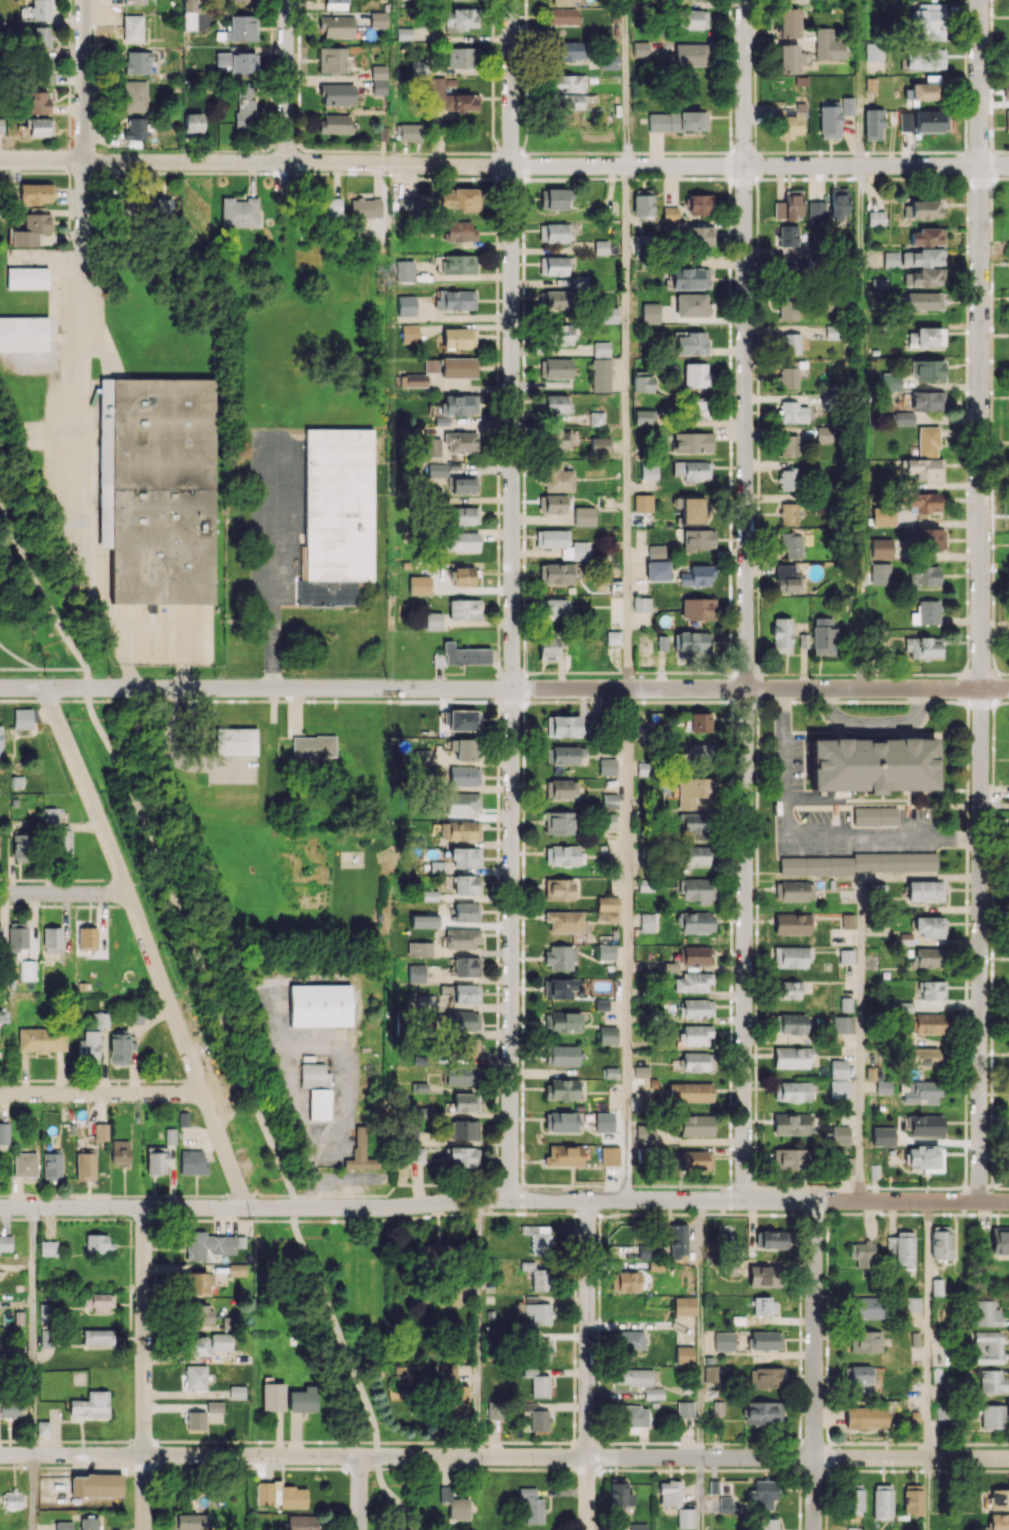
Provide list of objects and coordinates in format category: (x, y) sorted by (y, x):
building: (249, 0)
building: (135, 2)
building: (564, 2)
building: (336, 4)
building: (36, 10)
building: (190, 15)
building: (563, 16)
building: (377, 19)
building: (460, 19)
building: (691, 19)
building: (929, 20)
building: (790, 21)
building: (242, 27)
building: (336, 27)
building: (132, 28)
building: (404, 33)
building: (40, 36)
building: (830, 45)
building: (640, 48)
building: (567, 51)
building: (873, 51)
building: (1008, 53)
building: (690, 54)
building: (463, 57)
building: (789, 58)
building: (332, 59)
building: (927, 59)
building: (236, 61)
building: (608, 61)
building: (138, 62)
building: (418, 68)
building: (42, 72)
building: (378, 79)
road: (627, 82)
building: (567, 83)
building: (1006, 88)
building: (926, 89)
building: (336, 94)
road: (286, 95)
building: (134, 96)
building: (450, 97)
building: (569, 101)
building: (37, 102)
building: (847, 105)
building: (245, 106)
building: (903, 115)
building: (1007, 119)
building: (676, 121)
building: (930, 121)
building: (192, 122)
building: (829, 122)
building: (873, 122)
building: (334, 123)
road: (83, 124)
building: (791, 124)
building: (39, 126)
building: (136, 128)
building: (409, 131)
road: (504, 165)
building: (35, 194)
building: (459, 198)
building: (554, 198)
building: (838, 203)
building: (642, 204)
building: (701, 204)
building: (789, 205)
building: (124, 206)
building: (160, 206)
building: (365, 207)
building: (330, 208)
building: (924, 209)
building: (816, 211)
building: (238, 212)
building: (670, 213)
building: (875, 218)
building: (30, 229)
building: (459, 230)
building: (553, 232)
building: (699, 235)
building: (788, 235)
building: (927, 236)
road: (858, 238)
building: (600, 247)
building: (915, 258)
building: (458, 264)
building: (554, 265)
building: (787, 268)
building: (405, 270)
building: (924, 277)
building: (26, 278)
building: (690, 278)
building: (454, 299)
building: (553, 299)
building: (924, 300)
building: (406, 305)
building: (691, 305)
building: (787, 309)
building: (650, 312)
building: (609, 315)
building: (833, 332)
building: (409, 333)
building: (23, 334)
building: (560, 334)
building: (458, 337)
building: (924, 337)
building: (690, 342)
building: (791, 343)
building: (601, 348)
building: (431, 365)
building: (458, 367)
building: (555, 368)
building: (927, 370)
building: (789, 373)
building: (600, 375)
building: (696, 375)
building: (412, 380)
building: (889, 381)
building: (642, 383)
building: (927, 400)
building: (556, 403)
building: (458, 404)
building: (697, 409)
building: (793, 412)
building: (643, 417)
building: (596, 418)
building: (901, 418)
road: (627, 426)
building: (824, 434)
building: (557, 439)
building: (927, 441)
building: (460, 442)
building: (692, 442)
building: (599, 445)
building: (788, 445)
building: (431, 447)
building: (923, 468)
building: (437, 470)
building: (648, 470)
building: (693, 470)
road: (84, 474)
building: (556, 477)
building: (787, 480)
building: (464, 485)
building: (157, 488)
building: (923, 502)
building: (551, 503)
building: (643, 503)
building: (693, 510)
building: (789, 513)
building: (465, 515)
building: (336, 516)
building: (584, 516)
building: (882, 516)
building: (929, 538)
building: (698, 539)
building: (460, 541)
building: (562, 544)
building: (791, 544)
building: (880, 548)
building: (656, 550)
road: (272, 564)
building: (657, 570)
building: (556, 573)
building: (880, 573)
building: (696, 575)
building: (923, 575)
building: (461, 576)
building: (787, 579)
building: (419, 585)
road: (42, 591)
park: (39, 594)
road: (511, 598)
road: (745, 599)
road: (980, 601)
building: (641, 604)
building: (554, 608)
building: (698, 608)
building: (464, 609)
building: (925, 612)
building: (433, 621)
road: (176, 623)
building: (781, 635)
building: (823, 635)
building: (613, 637)
building: (803, 640)
building: (660, 643)
building: (691, 643)
building: (547, 647)
building: (923, 647)
building: (460, 655)
road: (18, 669)
road: (38, 670)
road: (86, 688)
road: (504, 688)
road: (53, 700)
road: (85, 700)
building: (22, 718)
building: (461, 720)
road: (873, 721)
building: (699, 722)
building: (562, 726)
building: (235, 741)
building: (311, 749)
building: (463, 749)
road: (178, 750)
building: (699, 751)
building: (563, 754)
building: (422, 757)
building: (872, 764)
building: (607, 766)
building: (464, 776)
building: (560, 789)
building: (694, 793)
building: (609, 800)
building: (461, 804)
road: (995, 807)
building: (49, 815)
building: (874, 816)
building: (607, 821)
building: (558, 822)
building: (693, 825)
building: (458, 830)
road: (812, 836)
building: (63, 842)
building: (22, 847)
building: (561, 855)
building: (696, 855)
building: (465, 857)
building: (861, 863)
building: (436, 866)
building: (466, 884)
building: (558, 888)
building: (696, 890)
building: (793, 890)
building: (924, 890)
building: (876, 892)
road: (64, 893)
building: (607, 908)
building: (465, 911)
building: (423, 920)
building: (846, 920)
building: (565, 921)
building: (646, 922)
building: (695, 922)
building: (791, 923)
building: (929, 926)
building: (0, 936)
building: (17, 936)
building: (462, 938)
building: (51, 939)
building: (86, 942)
road: (627, 943)
road: (147, 945)
building: (419, 948)
building: (606, 951)
building: (696, 955)
building: (846, 956)
building: (558, 957)
building: (791, 957)
building: (928, 957)
building: (465, 966)
building: (27, 970)
building: (416, 973)
road: (860, 978)
building: (693, 982)
building: (558, 988)
building: (790, 989)
building: (932, 990)
building: (465, 993)
building: (425, 1002)
building: (601, 1004)
building: (845, 1004)
building: (319, 1005)
building: (696, 1008)
building: (4, 1015)
building: (135, 1015)
building: (100, 1017)
building: (462, 1020)
building: (561, 1021)
building: (789, 1023)
building: (930, 1023)
building: (842, 1024)
building: (607, 1035)
building: (695, 1035)
building: (41, 1039)
building: (88, 1047)
building: (119, 1047)
building: (469, 1048)
building: (561, 1055)
building: (927, 1056)
building: (792, 1057)
building: (697, 1061)
building: (838, 1069)
building: (610, 1072)
building: (314, 1075)
building: (460, 1076)
building: (877, 1079)
building: (644, 1086)
building: (561, 1089)
building: (838, 1089)
building: (690, 1091)
building: (792, 1091)
building: (921, 1091)
road: (101, 1093)
building: (465, 1102)
building: (318, 1103)
road: (258, 1114)
building: (560, 1121)
building: (604, 1122)
building: (795, 1124)
building: (696, 1125)
building: (925, 1125)
building: (463, 1129)
building: (100, 1131)
building: (4, 1133)
building: (645, 1133)
building: (170, 1135)
building: (407, 1135)
building: (839, 1135)
building: (882, 1136)
building: (119, 1152)
building: (361, 1153)
building: (416, 1154)
building: (564, 1155)
building: (609, 1155)
building: (463, 1156)
building: (924, 1157)
building: (789, 1158)
building: (694, 1160)
building: (156, 1162)
building: (192, 1162)
building: (1008, 1162)
building: (24, 1164)
building: (847, 1165)
building: (51, 1166)
building: (84, 1166)
road: (504, 1198)
building: (537, 1237)
building: (771, 1239)
building: (678, 1240)
building: (999, 1240)
building: (940, 1242)
building: (5, 1243)
building: (97, 1243)
building: (207, 1245)
building: (48, 1248)
building: (901, 1248)
building: (645, 1251)
building: (862, 1253)
building: (727, 1268)
building: (236, 1269)
building: (536, 1276)
building: (762, 1276)
building: (625, 1281)
building: (198, 1282)
building: (451, 1294)
building: (98, 1302)
building: (912, 1303)
building: (684, 1305)
building: (761, 1305)
building: (865, 1307)
building: (535, 1310)
building: (986, 1313)
building: (198, 1314)
building: (226, 1323)
road: (477, 1328)
road: (700, 1328)
road: (927, 1329)
building: (97, 1337)
building: (627, 1340)
building: (765, 1340)
building: (220, 1341)
building: (724, 1341)
building: (865, 1341)
building: (196, 1346)
building: (987, 1347)
building: (540, 1349)
building: (684, 1354)
road: (587, 1364)
road: (814, 1365)
road: (31, 1368)
road: (144, 1368)
building: (711, 1373)
building: (447, 1374)
building: (858, 1374)
building: (195, 1377)
building: (633, 1377)
building: (766, 1377)
building: (992, 1382)
building: (537, 1383)
building: (236, 1392)
building: (653, 1393)
building: (272, 1396)
building: (459, 1397)
building: (302, 1399)
building: (90, 1405)
building: (214, 1406)
building: (10, 1407)
building: (494, 1409)
building: (685, 1409)
building: (763, 1412)
building: (992, 1416)
building: (634, 1417)
building: (865, 1417)
building: (196, 1420)
building: (540, 1420)
building: (42, 1427)
road: (504, 1456)
building: (96, 1485)
road: (359, 1493)
building: (669, 1493)
road: (699, 1493)
building: (619, 1494)
building: (763, 1494)
road: (927, 1494)
building: (281, 1495)
building: (854, 1498)
building: (11, 1499)
building: (912, 1499)
building: (999, 1499)
building: (882, 1501)
building: (454, 1504)
building: (726, 1504)
building: (531, 1505)
building: (685, 1518)
building: (191, 1521)
building: (998, 1521)
building: (302, 1522)
building: (88, 1523)
building: (768, 1524)
building: (63, 1525)
building: (638, 1526)

